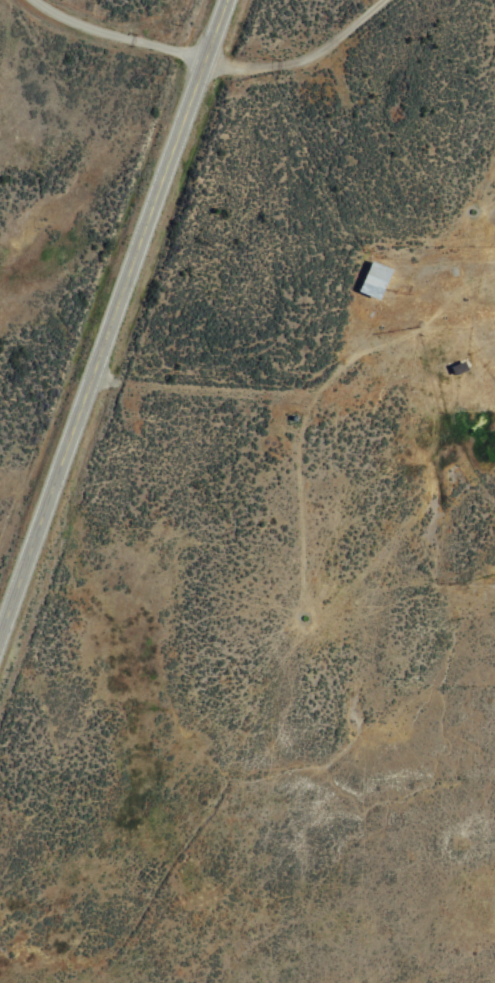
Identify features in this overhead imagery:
road: (299, 59)
building: (373, 278)
road: (117, 325)
crop: (247, 491)

